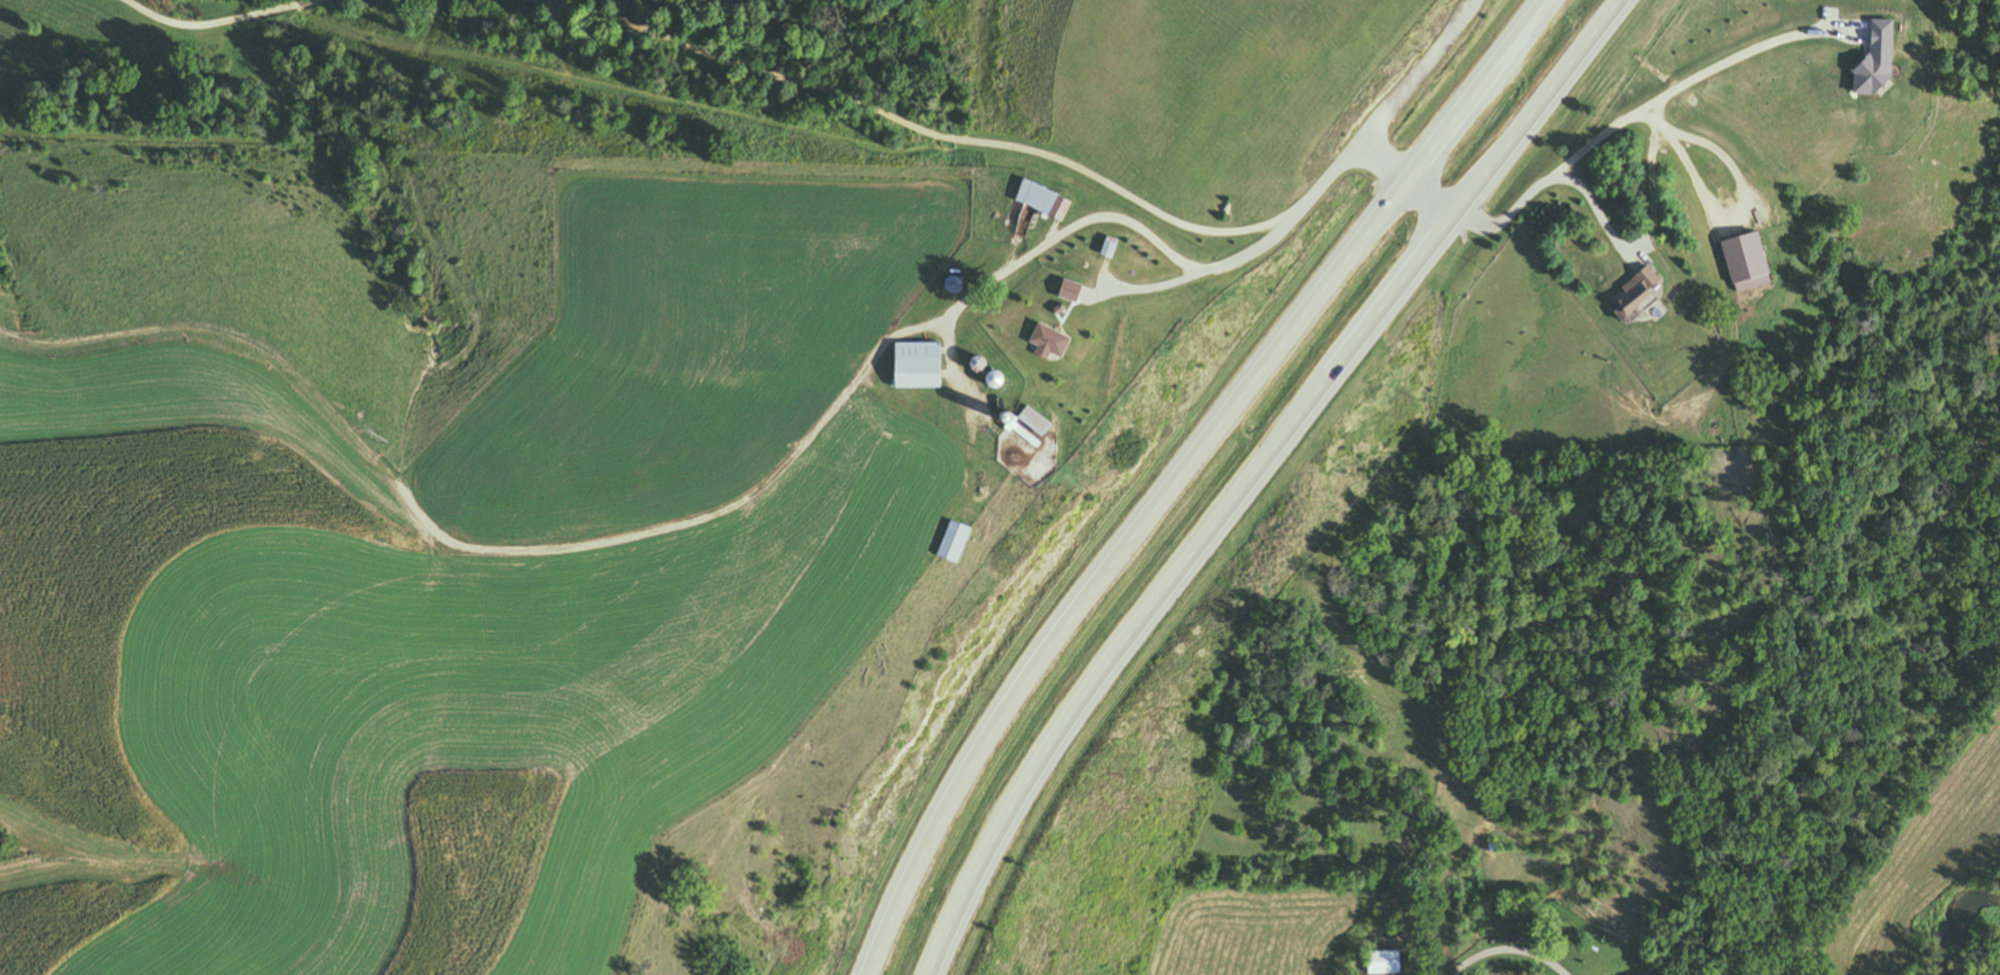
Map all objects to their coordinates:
road: (245, 20)
road: (1418, 73)
road: (951, 138)
building: (1040, 201)
road: (1506, 211)
road: (1092, 221)
building: (1104, 246)
building: (1736, 260)
building: (1062, 290)
road: (1152, 290)
building: (1624, 293)
building: (1042, 340)
building: (909, 365)
building: (1027, 420)
road: (1175, 470)
road: (1253, 473)
building: (940, 542)
road: (1506, 950)
building: (1377, 963)

